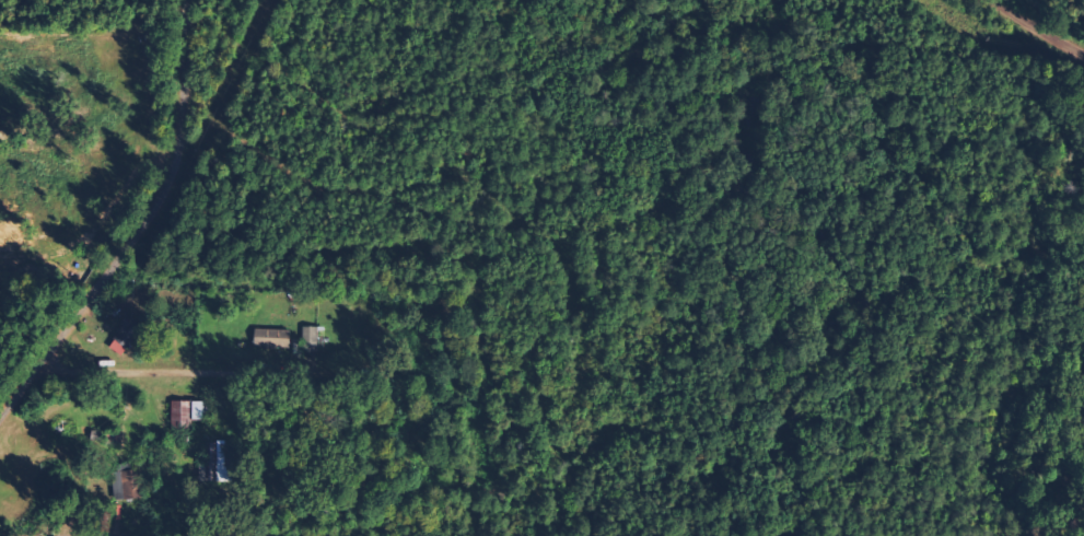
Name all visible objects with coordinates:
road: (1041, 24)
road: (163, 197)
building: (129, 336)
building: (279, 336)
building: (314, 339)
road: (168, 366)
road: (24, 392)
building: (190, 413)
building: (220, 464)
building: (131, 483)

